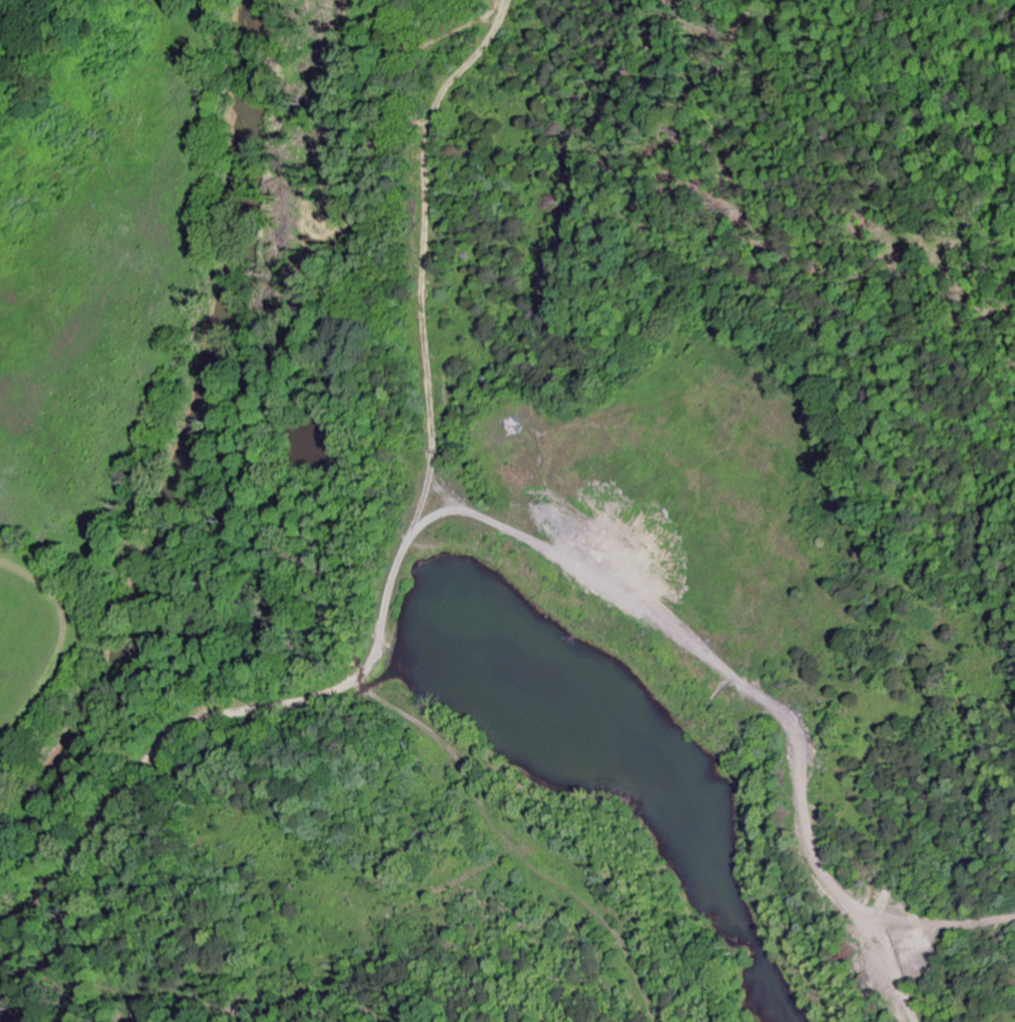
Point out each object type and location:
road: (227, 717)

